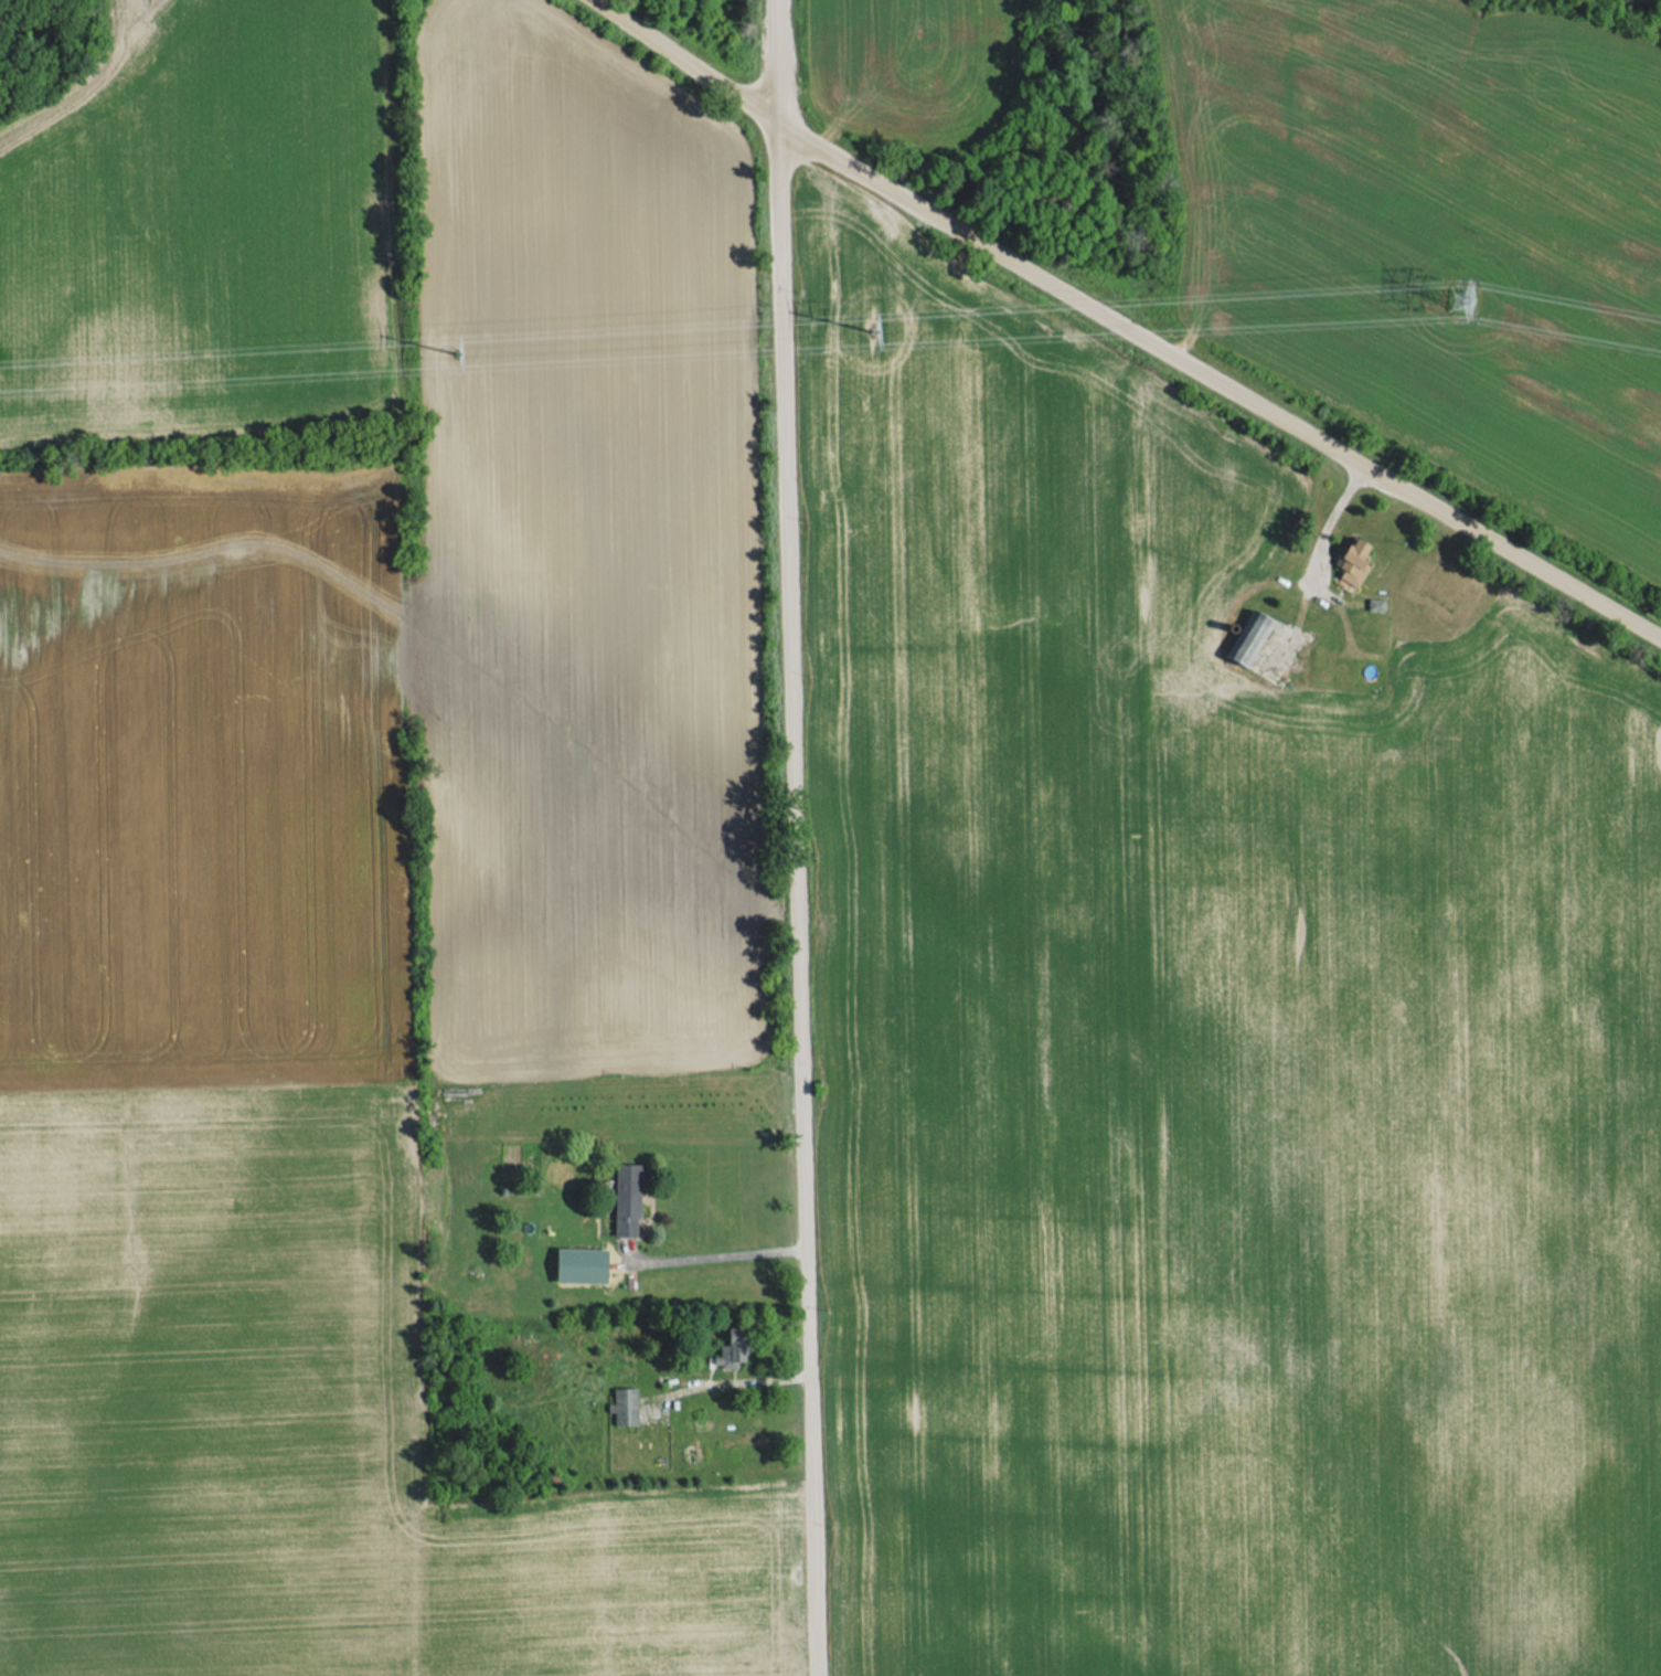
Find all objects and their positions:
power tower: (1461, 296)
road: (1125, 327)
power tower: (869, 330)
power tower: (457, 354)
road: (1330, 519)
building: (1352, 563)
building: (1249, 637)
road: (797, 838)
building: (627, 1199)
road: (722, 1256)
building: (582, 1264)
building: (733, 1348)
road: (745, 1375)
building: (625, 1405)

